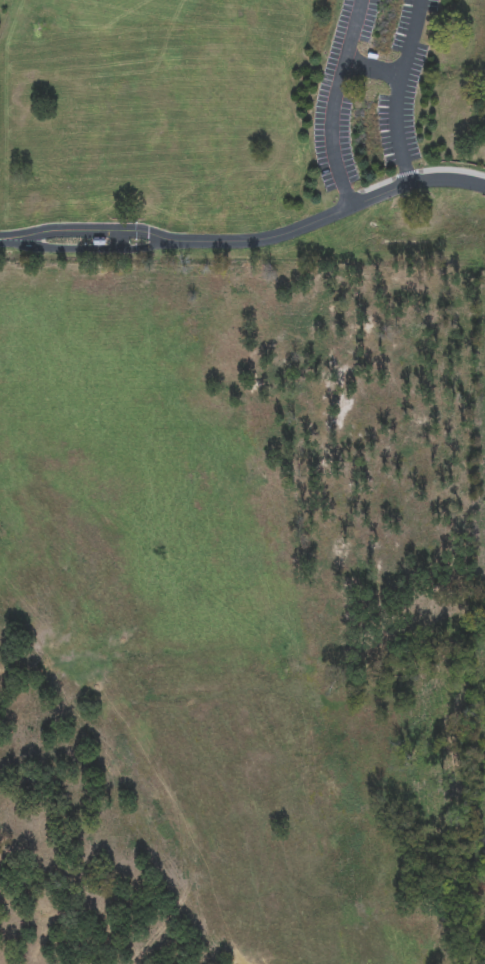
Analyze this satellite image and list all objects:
road: (374, 70)
parking lot: (405, 87)
road: (401, 92)
parking lot: (342, 97)
road: (334, 104)
road: (419, 173)
road: (484, 178)
road: (417, 184)
road: (115, 228)
road: (293, 231)
road: (86, 235)
road: (119, 239)
road: (115, 251)

